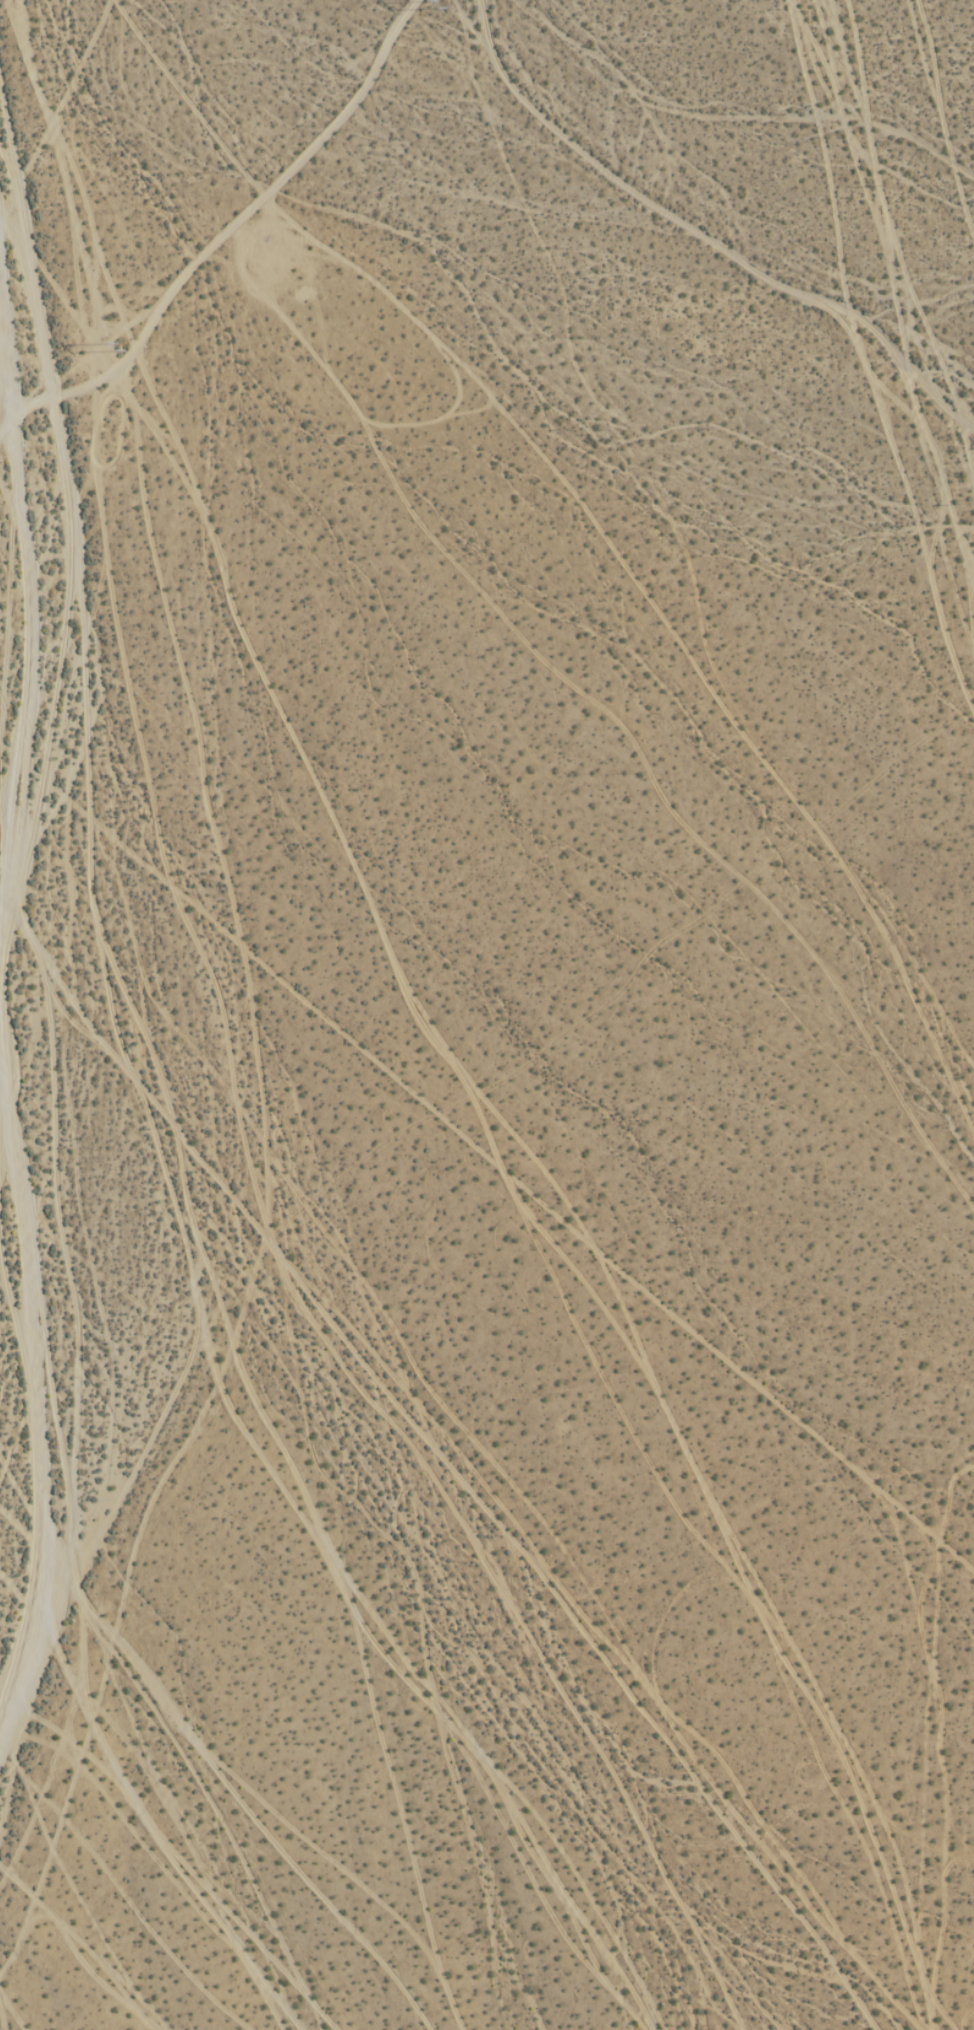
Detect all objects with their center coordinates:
power tower: (451, 2)
road: (220, 232)
power tower: (125, 345)
road: (39, 1522)

